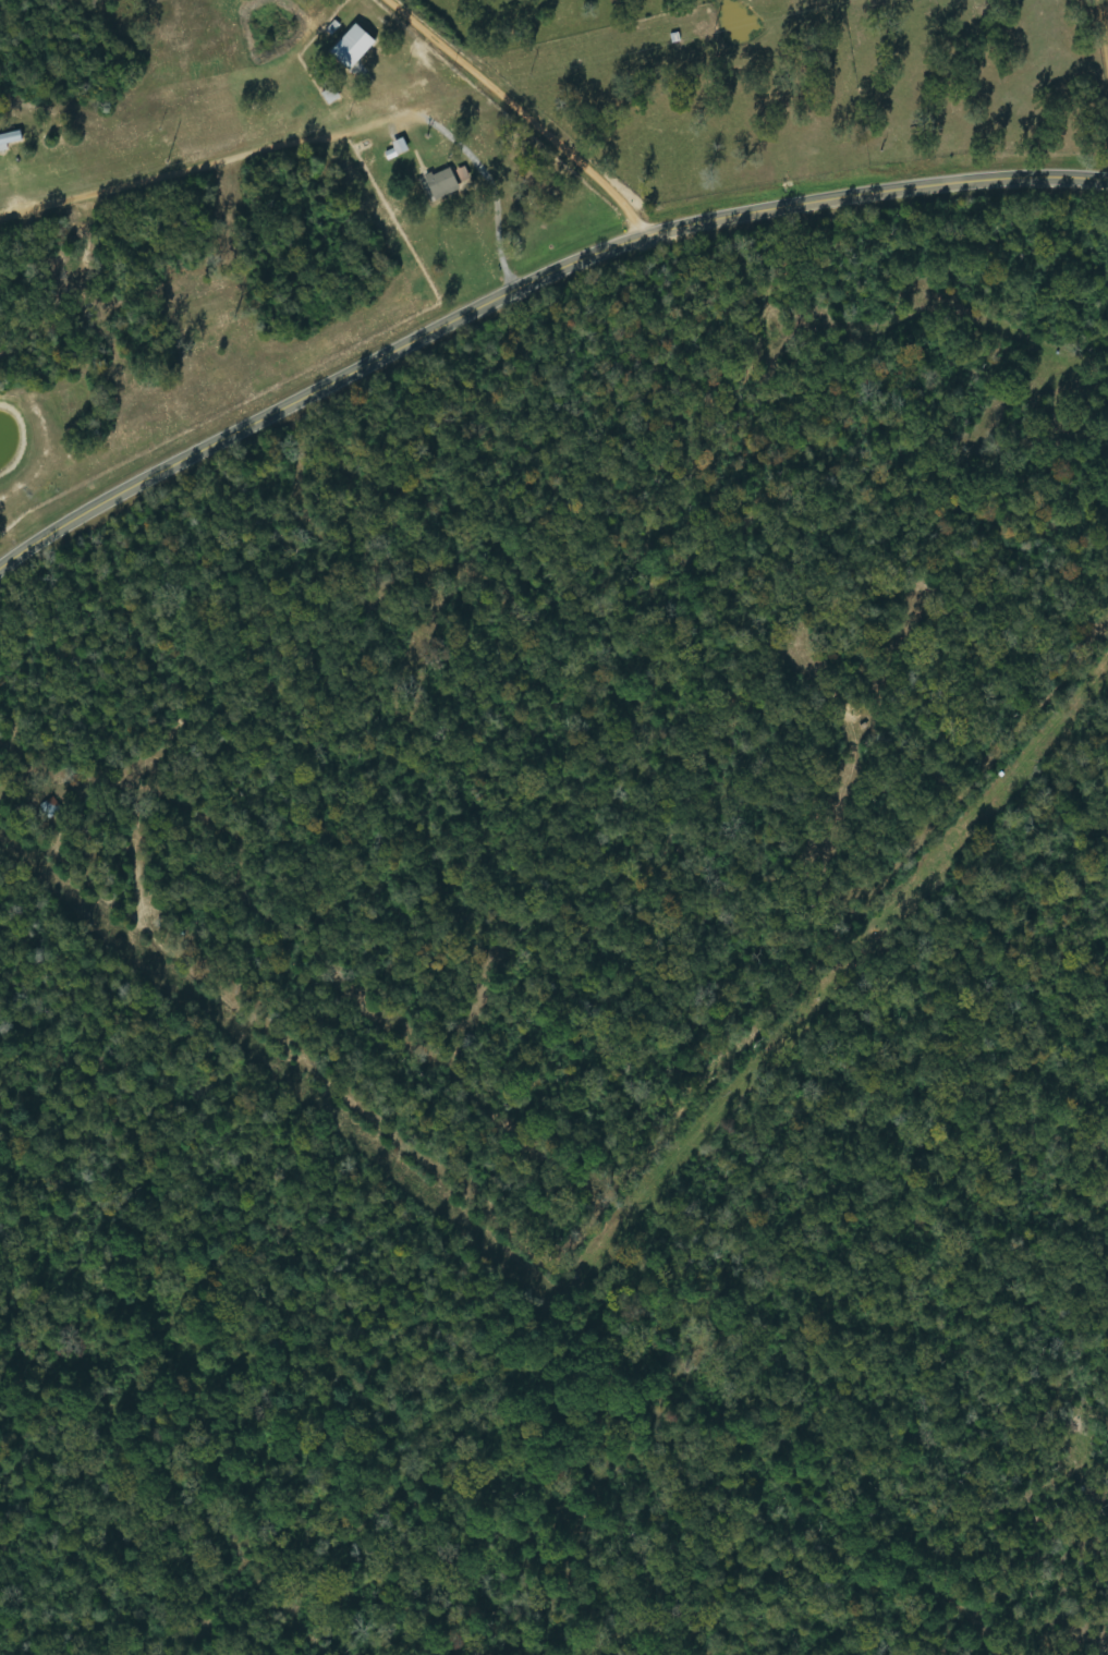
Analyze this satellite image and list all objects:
building: (356, 48)
road: (521, 115)
building: (445, 183)
road: (525, 282)

